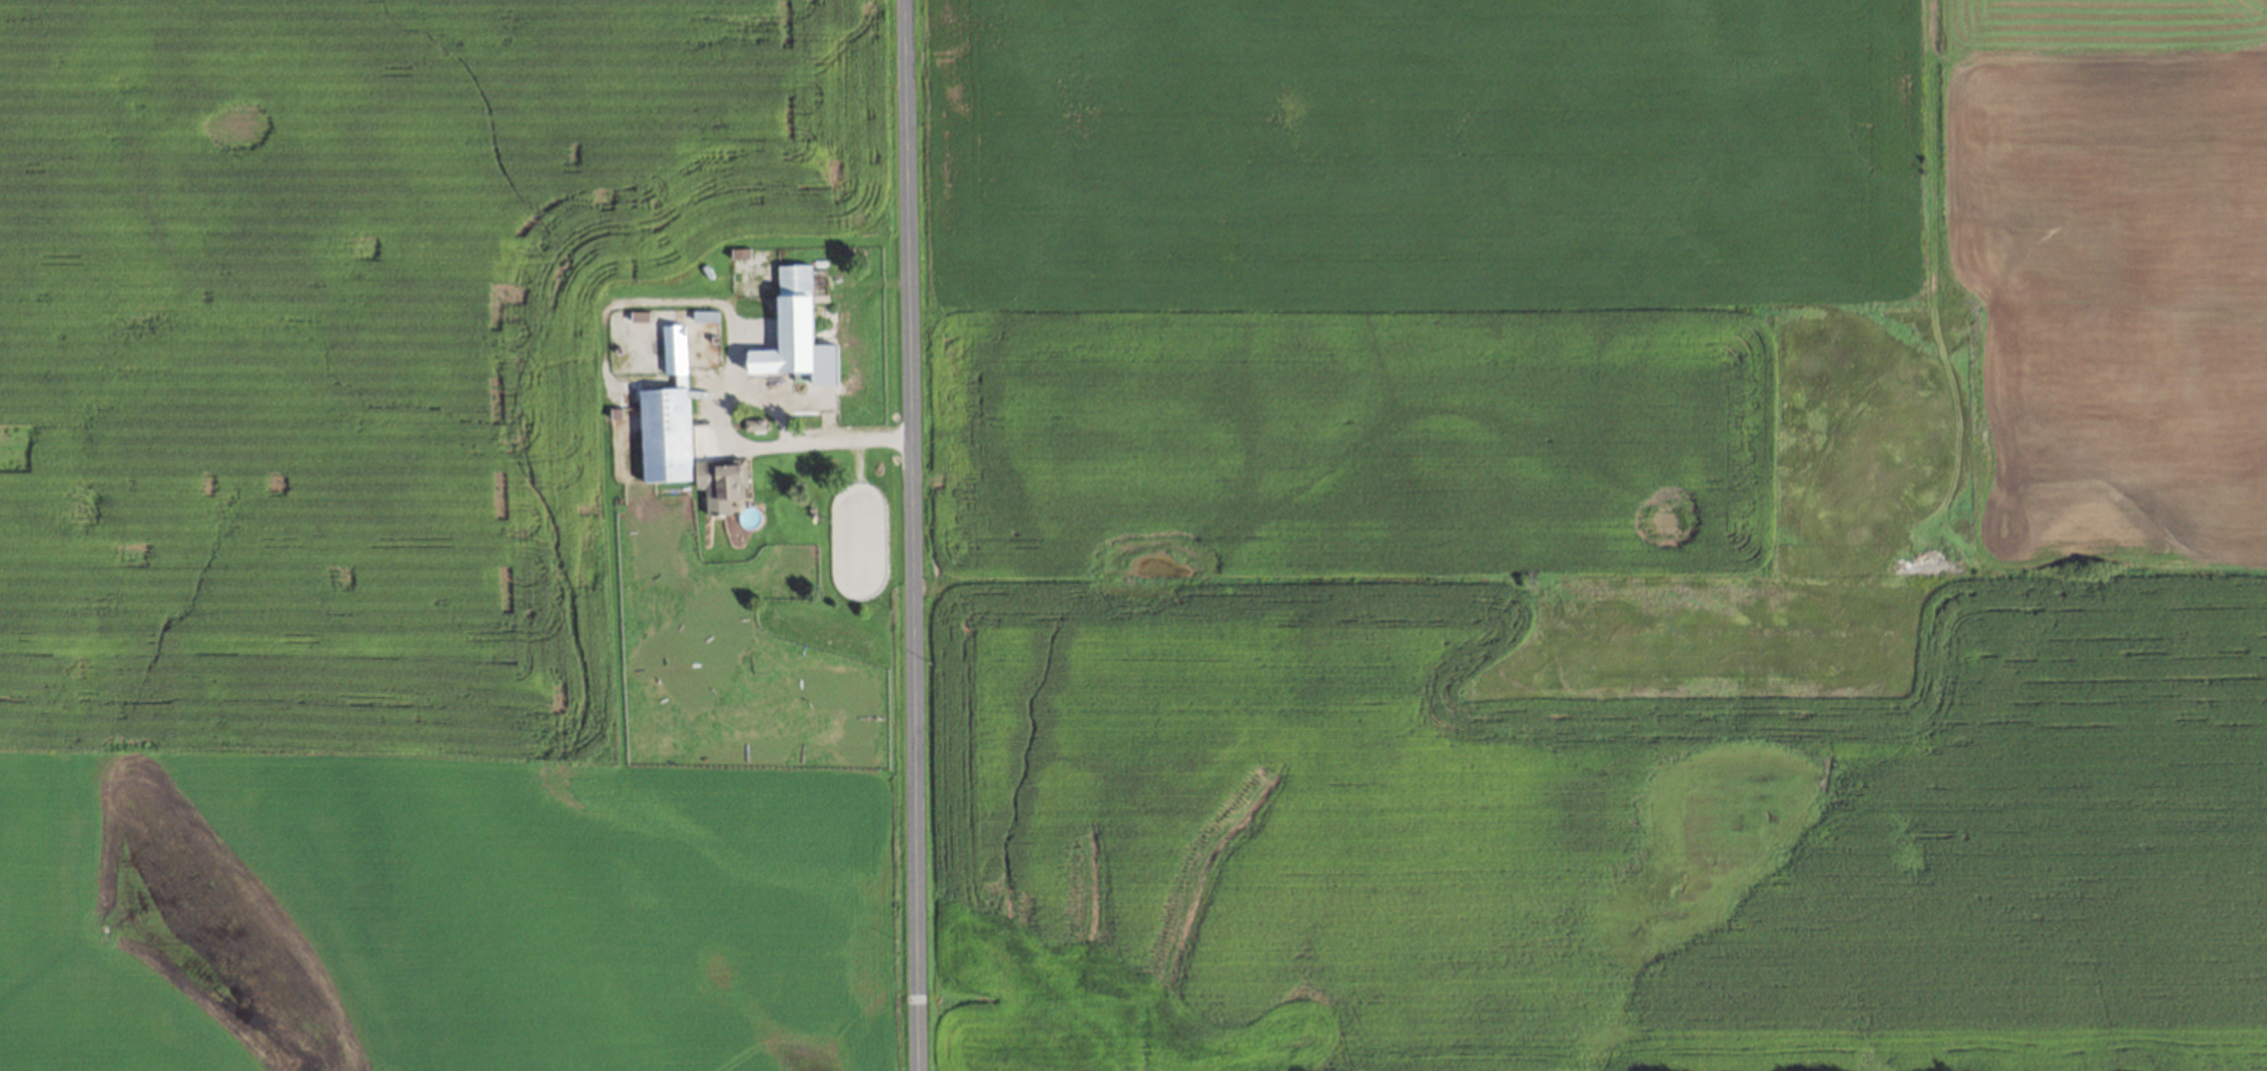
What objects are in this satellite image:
building: (795, 332)
building: (672, 344)
building: (665, 435)
building: (722, 483)
road: (913, 534)

